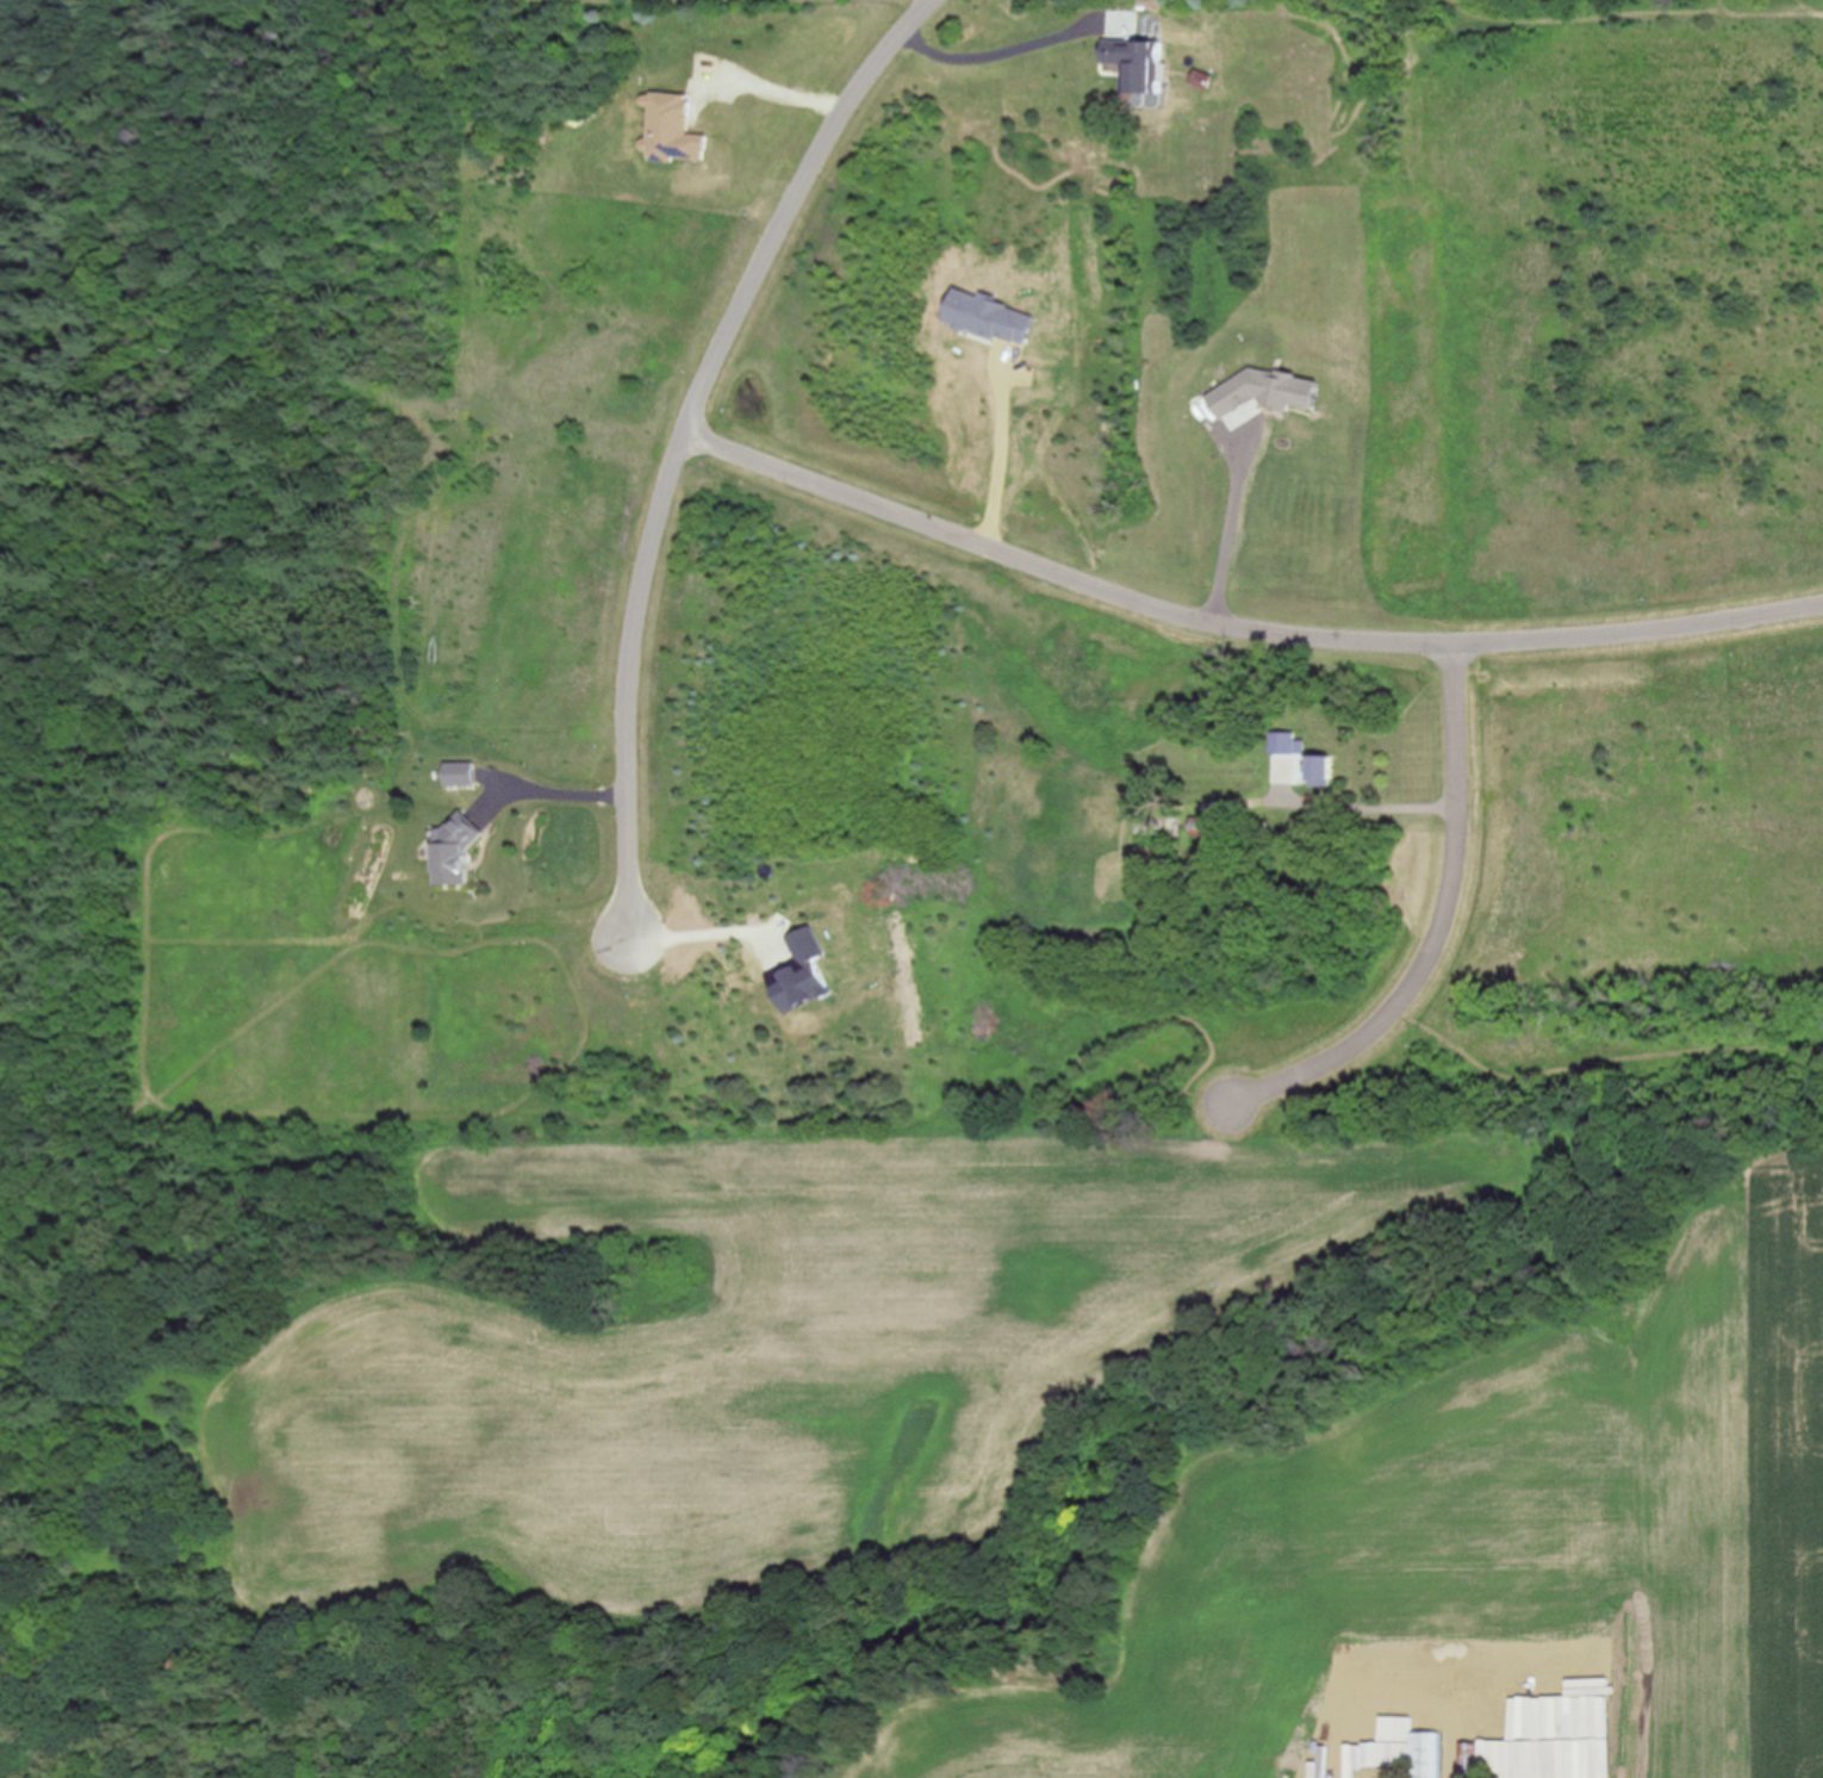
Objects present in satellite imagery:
road: (1002, 52)
road: (782, 94)
road: (687, 440)
road: (1228, 523)
road: (1243, 618)
road: (552, 790)
road: (1370, 806)
road: (1438, 924)
crop: (1487, 1536)

